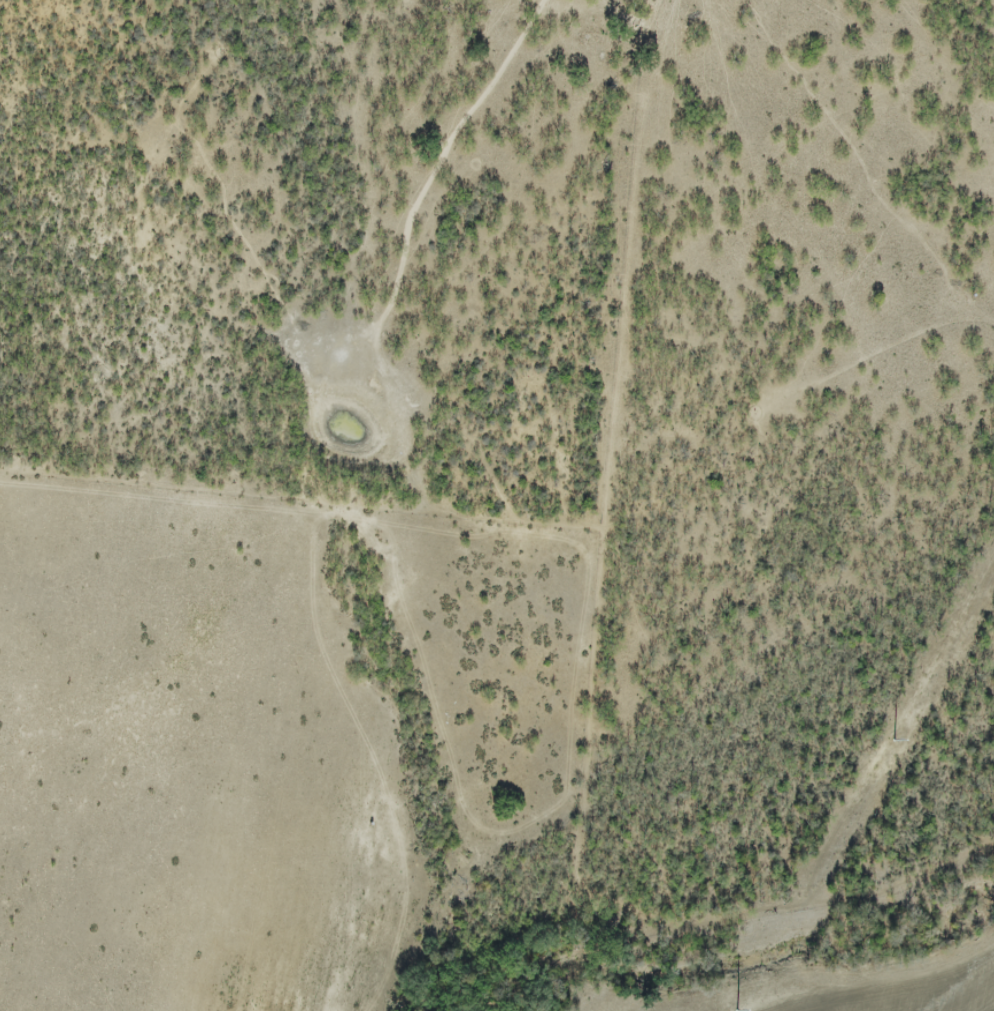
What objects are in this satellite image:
power tower: (895, 739)
power tower: (736, 1010)

